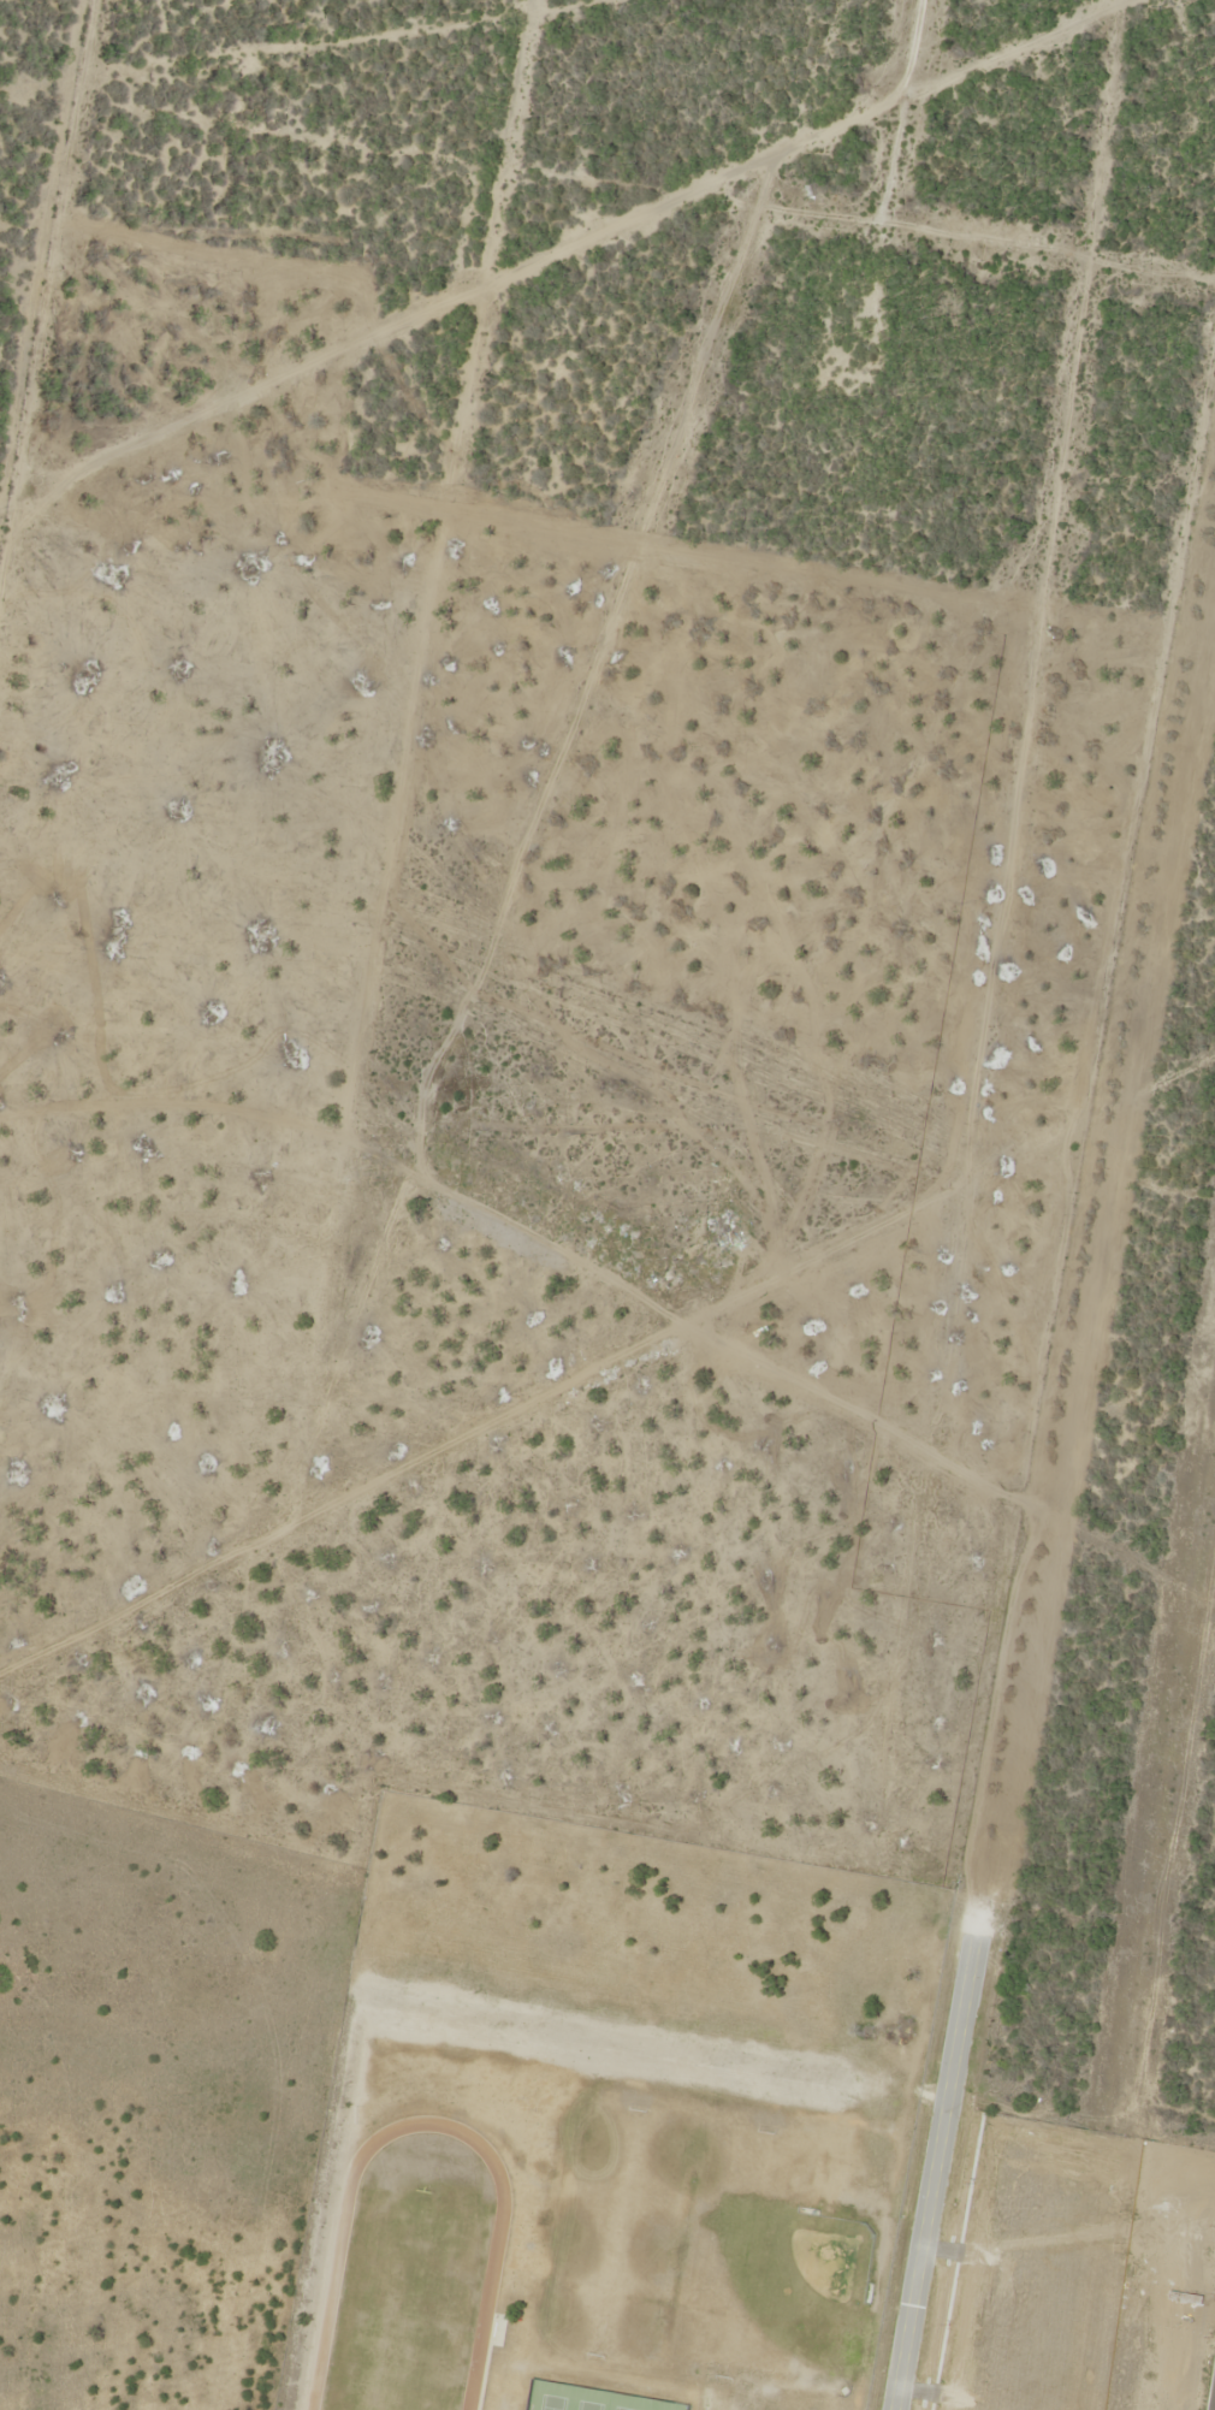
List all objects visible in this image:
road: (895, 2390)
building: (753, 2397)

